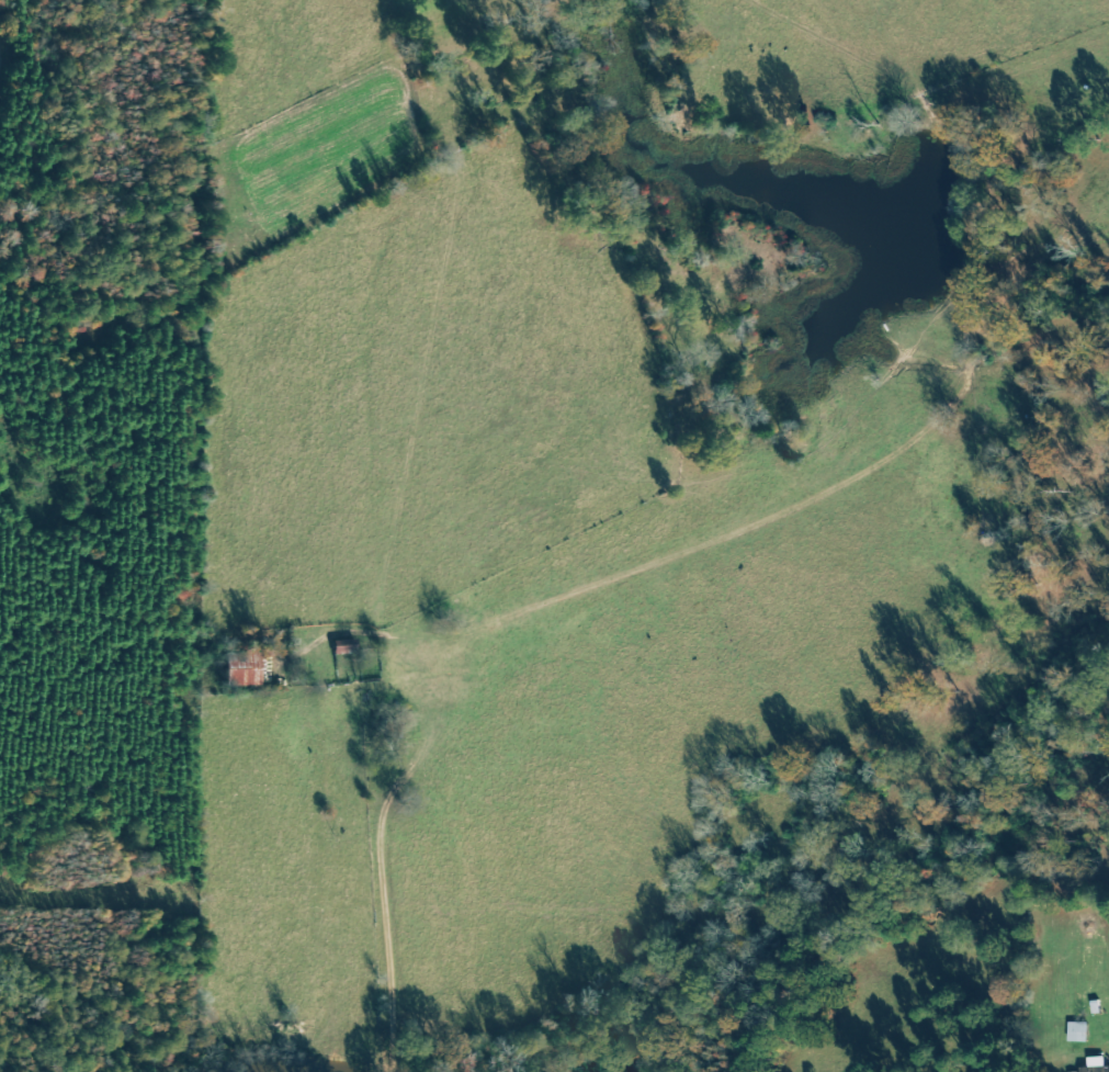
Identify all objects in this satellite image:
building: (241, 668)
road: (381, 839)
building: (1079, 1031)
building: (1098, 1064)

